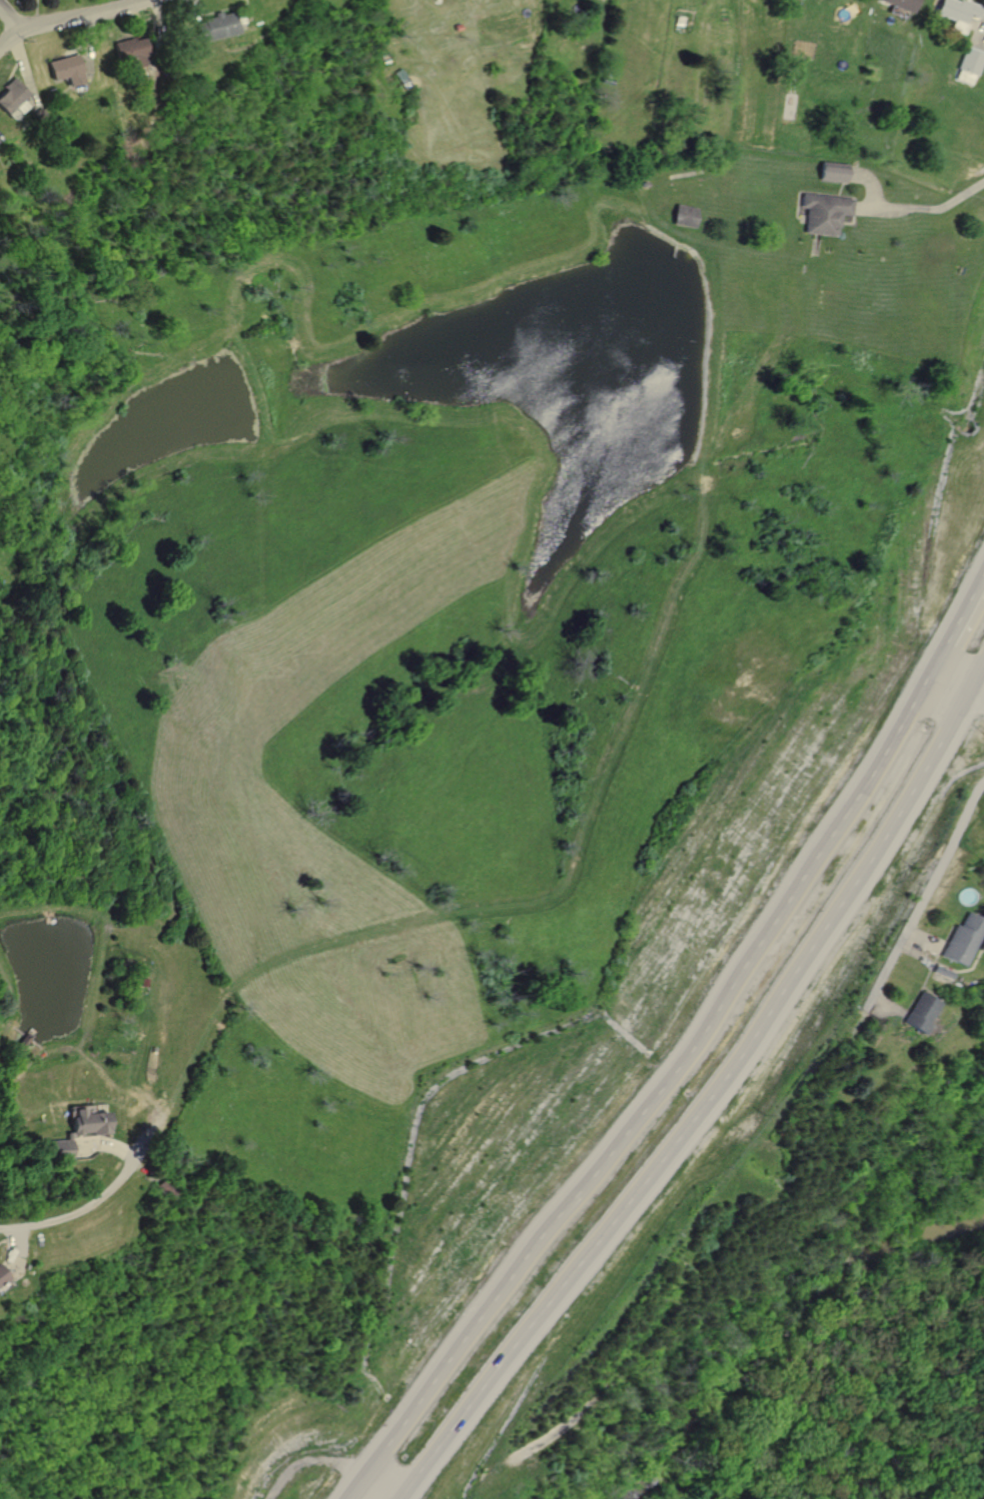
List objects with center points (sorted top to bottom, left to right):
building: (897, 4)
building: (957, 10)
road: (68, 17)
road: (8, 20)
building: (211, 25)
building: (128, 51)
building: (968, 60)
building: (61, 68)
building: (9, 94)
building: (832, 171)
road: (869, 179)
road: (921, 207)
building: (824, 211)
building: (684, 216)
road: (957, 626)
road: (957, 691)
road: (924, 895)
road: (922, 942)
building: (958, 942)
building: (938, 974)
road: (883, 1009)
building: (916, 1015)
road: (711, 1097)
road: (654, 1101)
building: (85, 1120)
building: (59, 1150)
road: (90, 1201)
building: (0, 1280)
park: (807, 1319)
road: (332, 1461)

